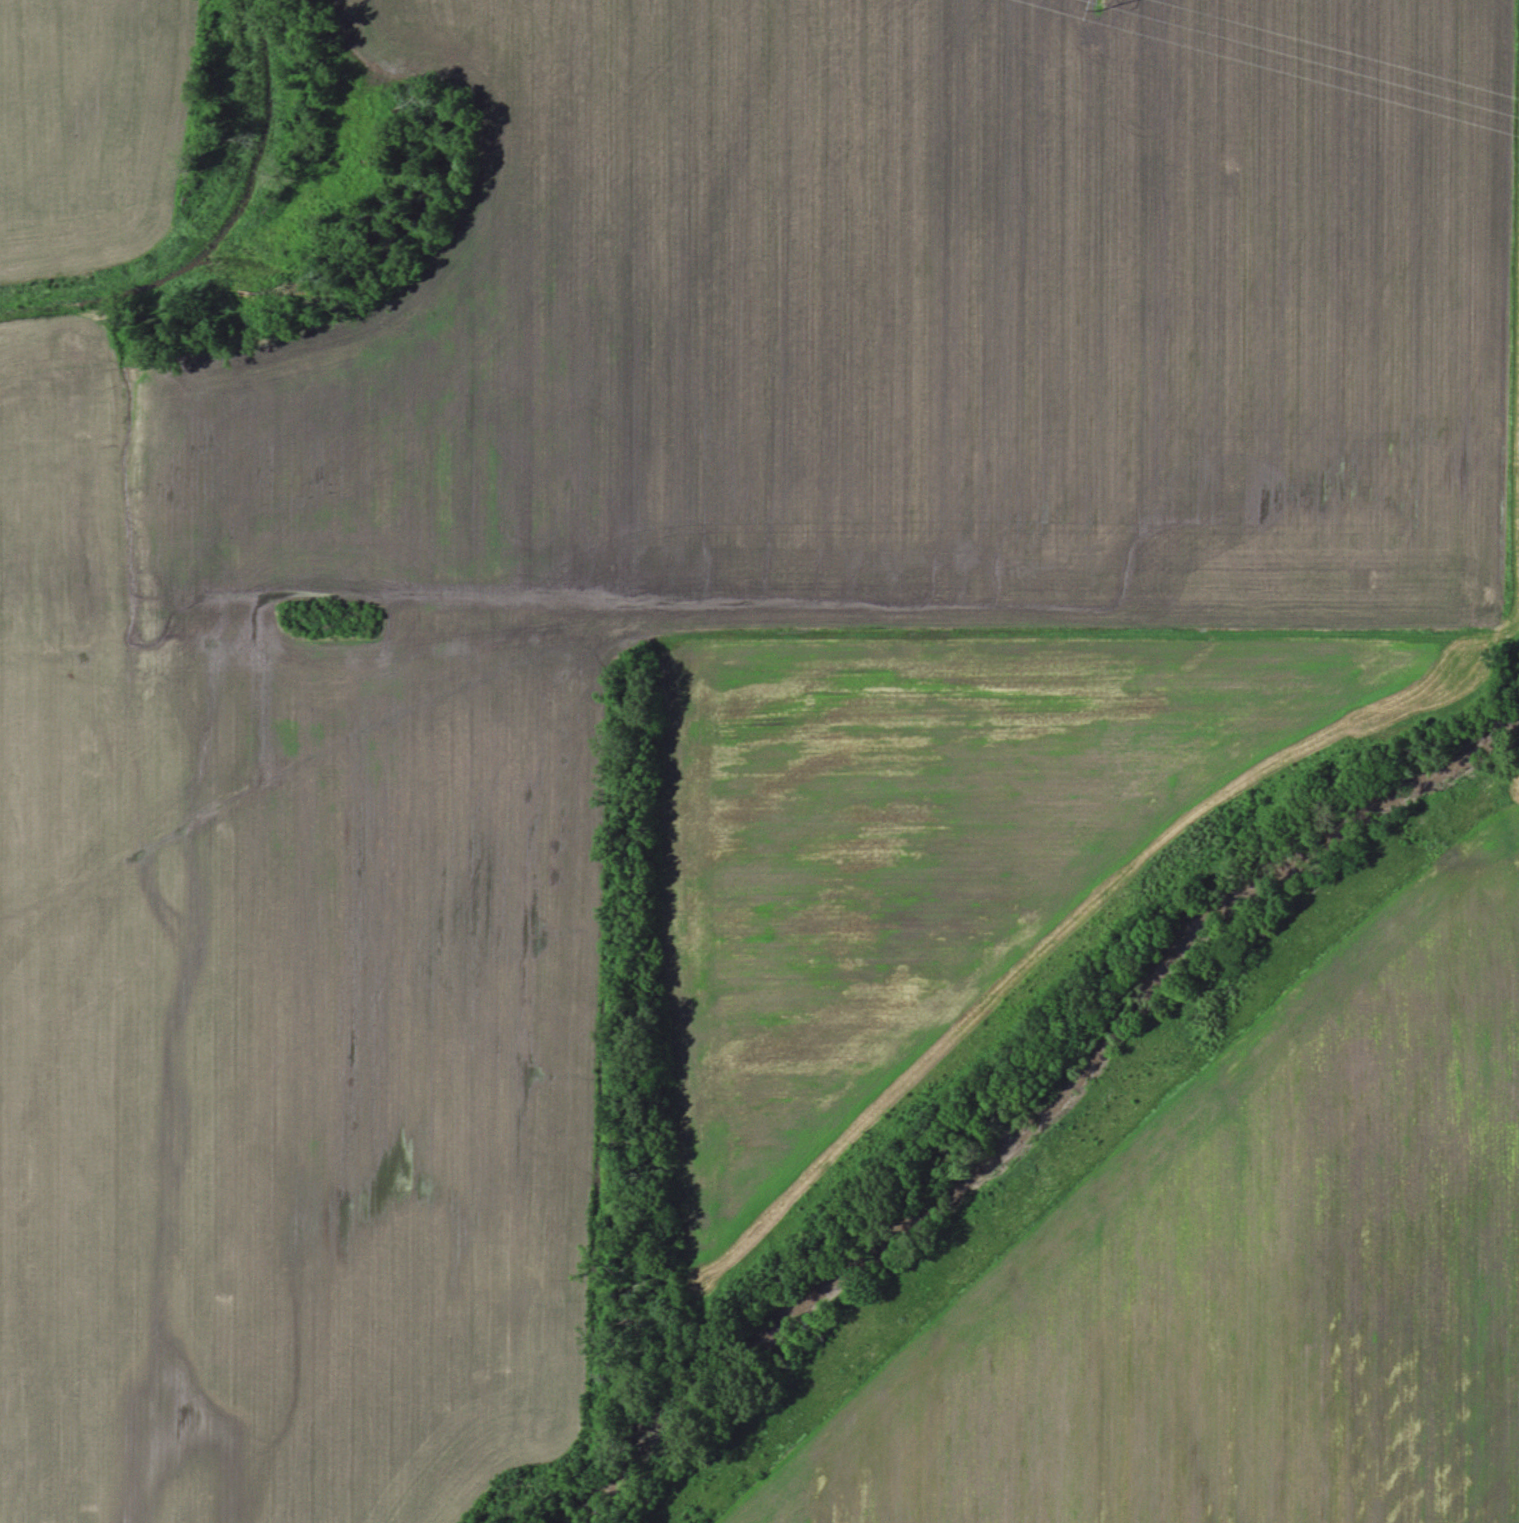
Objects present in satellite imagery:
power tower: (1098, 2)
road: (1509, 332)
river: (1013, 1090)

